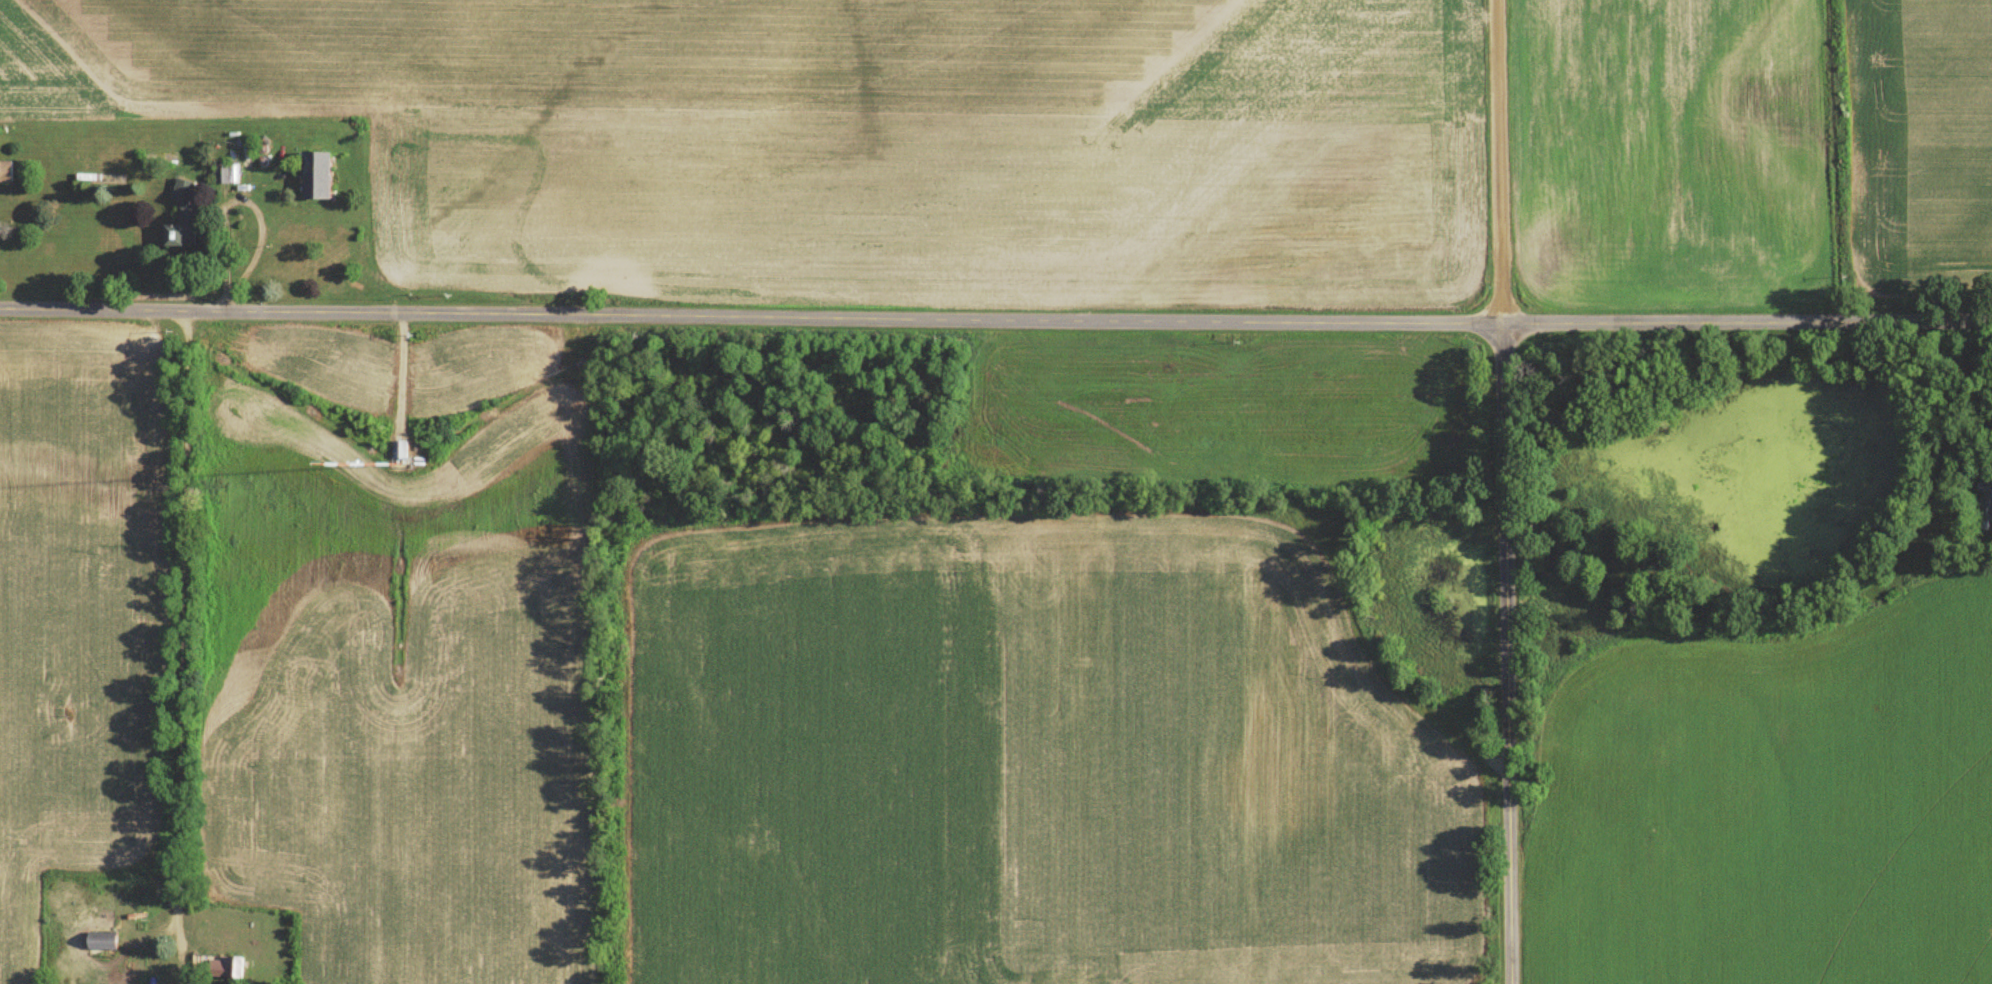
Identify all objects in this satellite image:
building: (246, 160)
road: (1498, 162)
building: (4, 175)
building: (221, 178)
building: (315, 179)
building: (183, 195)
building: (178, 239)
road: (751, 316)
road: (1747, 321)
building: (400, 453)
building: (1984, 502)
road: (181, 624)
road: (1506, 654)
building: (100, 943)
building: (227, 969)

